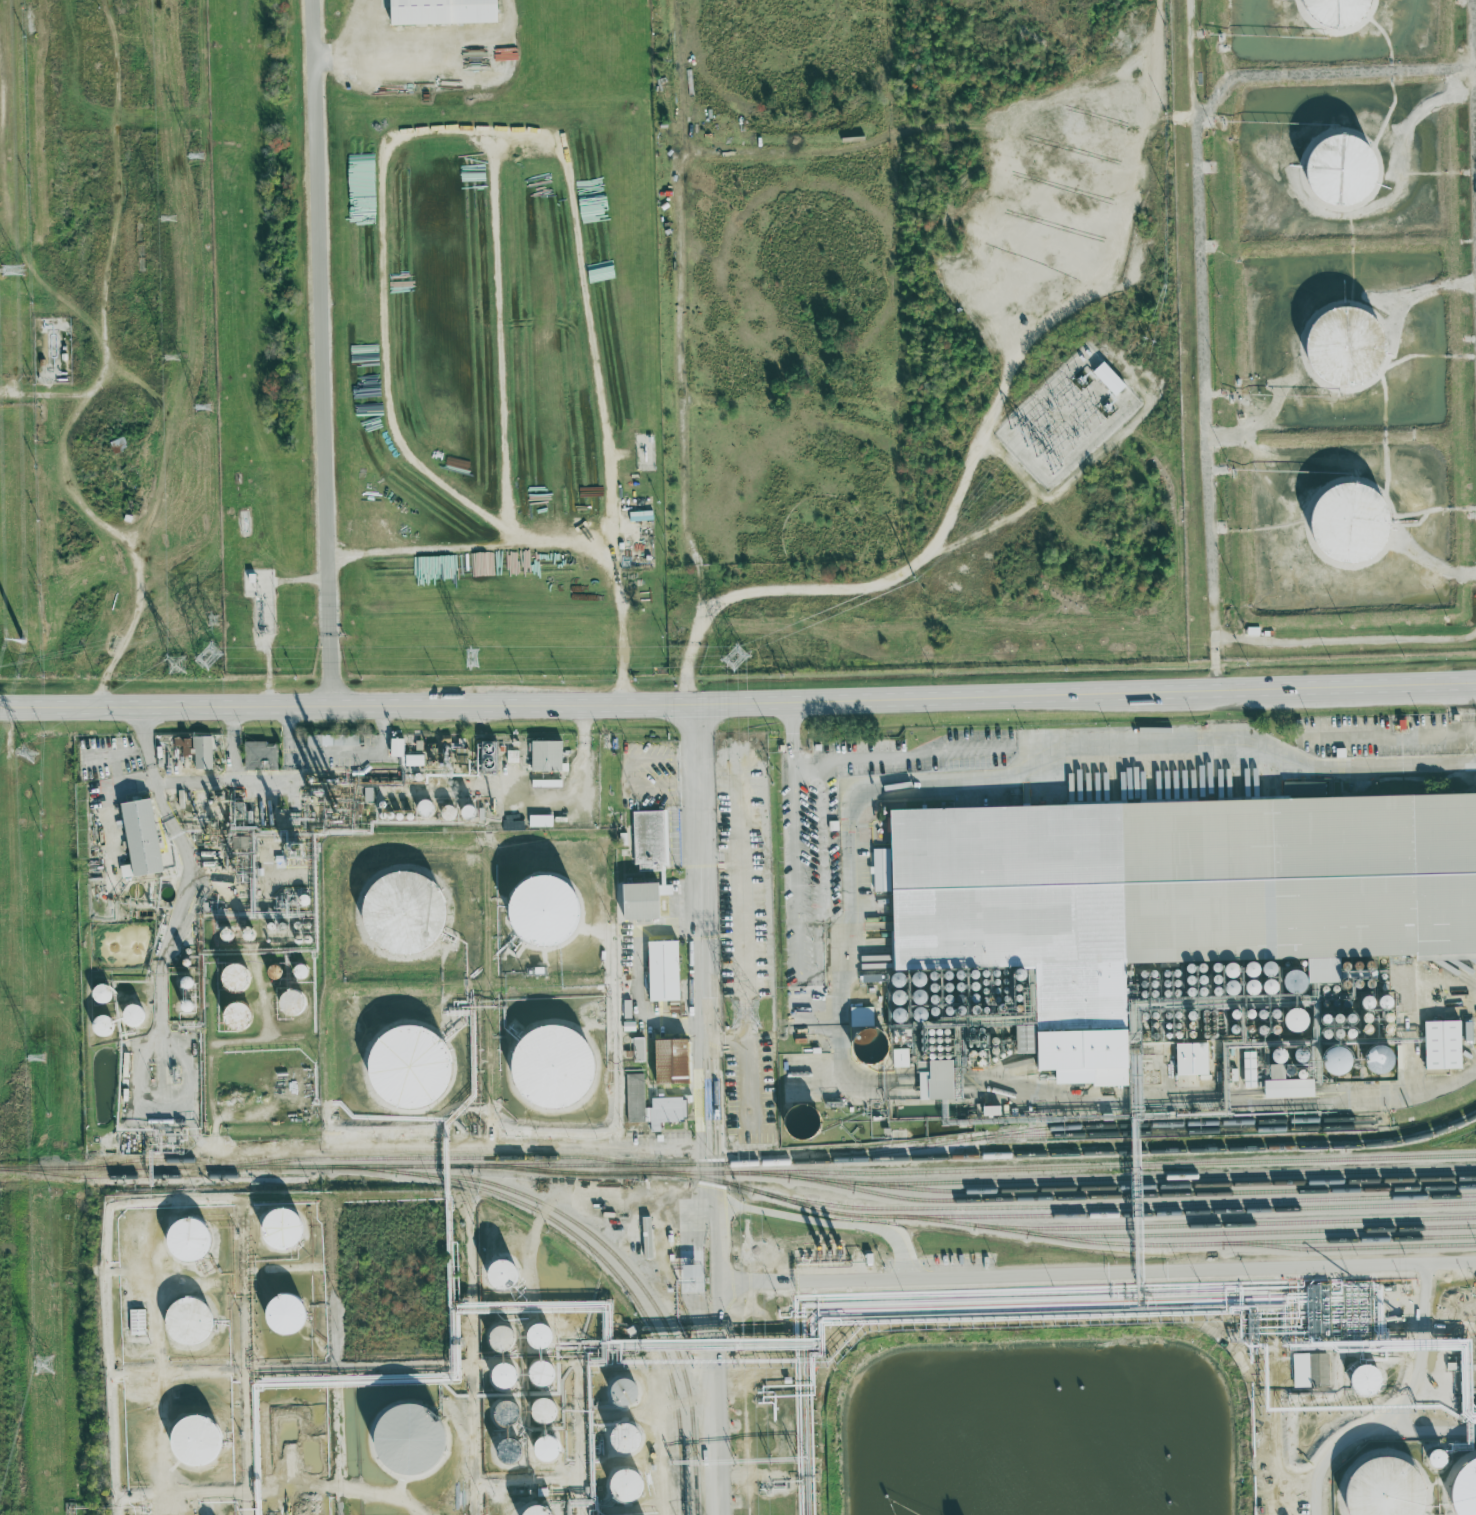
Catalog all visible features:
building: (437, 11)
building: (1330, 11)
road: (411, 88)
power tower: (201, 152)
building: (1332, 168)
power tower: (171, 221)
building: (598, 274)
power tower: (12, 278)
building: (1338, 346)
road: (325, 351)
road: (1212, 361)
power tower: (176, 362)
building: (1105, 379)
road: (31, 393)
power tower: (209, 404)
road: (1233, 435)
road: (1253, 440)
building: (638, 515)
building: (1341, 524)
road: (549, 544)
building: (480, 564)
road: (688, 574)
road: (141, 613)
power tower: (23, 642)
road: (274, 651)
power tower: (741, 653)
power tower: (177, 666)
road: (1049, 692)
road: (311, 704)
road: (291, 736)
road: (1414, 736)
building: (197, 750)
building: (400, 752)
power tower: (29, 755)
building: (256, 755)
building: (481, 755)
building: (542, 755)
building: (510, 756)
road: (1137, 768)
road: (231, 781)
road: (268, 781)
building: (542, 782)
road: (549, 799)
building: (417, 806)
building: (456, 812)
building: (537, 820)
road: (800, 830)
building: (134, 835)
building: (646, 840)
road: (188, 871)
road: (739, 888)
building: (1172, 891)
building: (638, 899)
building: (545, 911)
building: (407, 912)
building: (241, 933)
building: (1198, 967)
building: (1264, 968)
building: (1247, 969)
building: (293, 970)
building: (659, 970)
building: (1226, 970)
building: (226, 976)
building: (1287, 978)
building: (180, 982)
building: (1227, 986)
building: (96, 993)
building: (895, 997)
building: (285, 1002)
building: (625, 1009)
road: (1413, 1010)
building: (229, 1014)
power tower: (745, 1014)
building: (129, 1015)
building: (894, 1015)
building: (1346, 1017)
building: (1384, 1017)
building: (1291, 1019)
building: (96, 1025)
building: (1464, 1030)
building: (861, 1033)
building: (1023, 1039)
road: (254, 1042)
building: (1439, 1044)
road: (845, 1047)
building: (636, 1048)
building: (1272, 1054)
building: (1293, 1055)
power tower: (36, 1058)
building: (899, 1058)
building: (1189, 1059)
building: (1373, 1059)
building: (1331, 1060)
building: (664, 1061)
building: (411, 1069)
building: (1247, 1069)
building: (554, 1070)
building: (1271, 1071)
building: (1232, 1074)
building: (932, 1080)
building: (955, 1083)
building: (1285, 1088)
road: (1404, 1092)
building: (648, 1105)
building: (987, 1110)
building: (794, 1120)
railway: (1088, 1126)
railway: (1170, 1131)
railway: (1402, 1139)
road: (451, 1151)
railway: (432, 1158)
railway: (133, 1161)
railway: (662, 1164)
railway: (1060, 1167)
railway: (153, 1176)
railway: (1102, 1178)
railway: (1164, 1185)
road: (643, 1194)
railway: (1129, 1194)
railway: (547, 1205)
railway: (975, 1206)
railway: (1184, 1209)
railway: (1223, 1223)
building: (285, 1229)
railway: (1250, 1231)
building: (191, 1242)
railway: (1112, 1243)
railway: (589, 1248)
railway: (1347, 1248)
building: (684, 1270)
road: (1095, 1272)
building: (494, 1274)
building: (1314, 1305)
building: (288, 1316)
building: (133, 1322)
building: (193, 1322)
building: (540, 1343)
building: (502, 1344)
road: (473, 1353)
power tower: (42, 1364)
building: (1307, 1369)
road: (318, 1371)
building: (495, 1375)
building: (1360, 1379)
building: (543, 1380)
building: (506, 1383)
building: (619, 1391)
road: (1405, 1409)
building: (496, 1411)
building: (546, 1417)
building: (506, 1418)
building: (394, 1438)
building: (618, 1438)
building: (198, 1442)
railway: (694, 1444)
road: (164, 1445)
building: (498, 1450)
building: (547, 1455)
building: (510, 1457)
building: (1431, 1459)
railway: (680, 1474)
building: (619, 1485)
road: (529, 1487)
building: (1388, 1487)
building: (1467, 1488)
road: (179, 1496)
road: (581, 1500)
building: (529, 1510)

